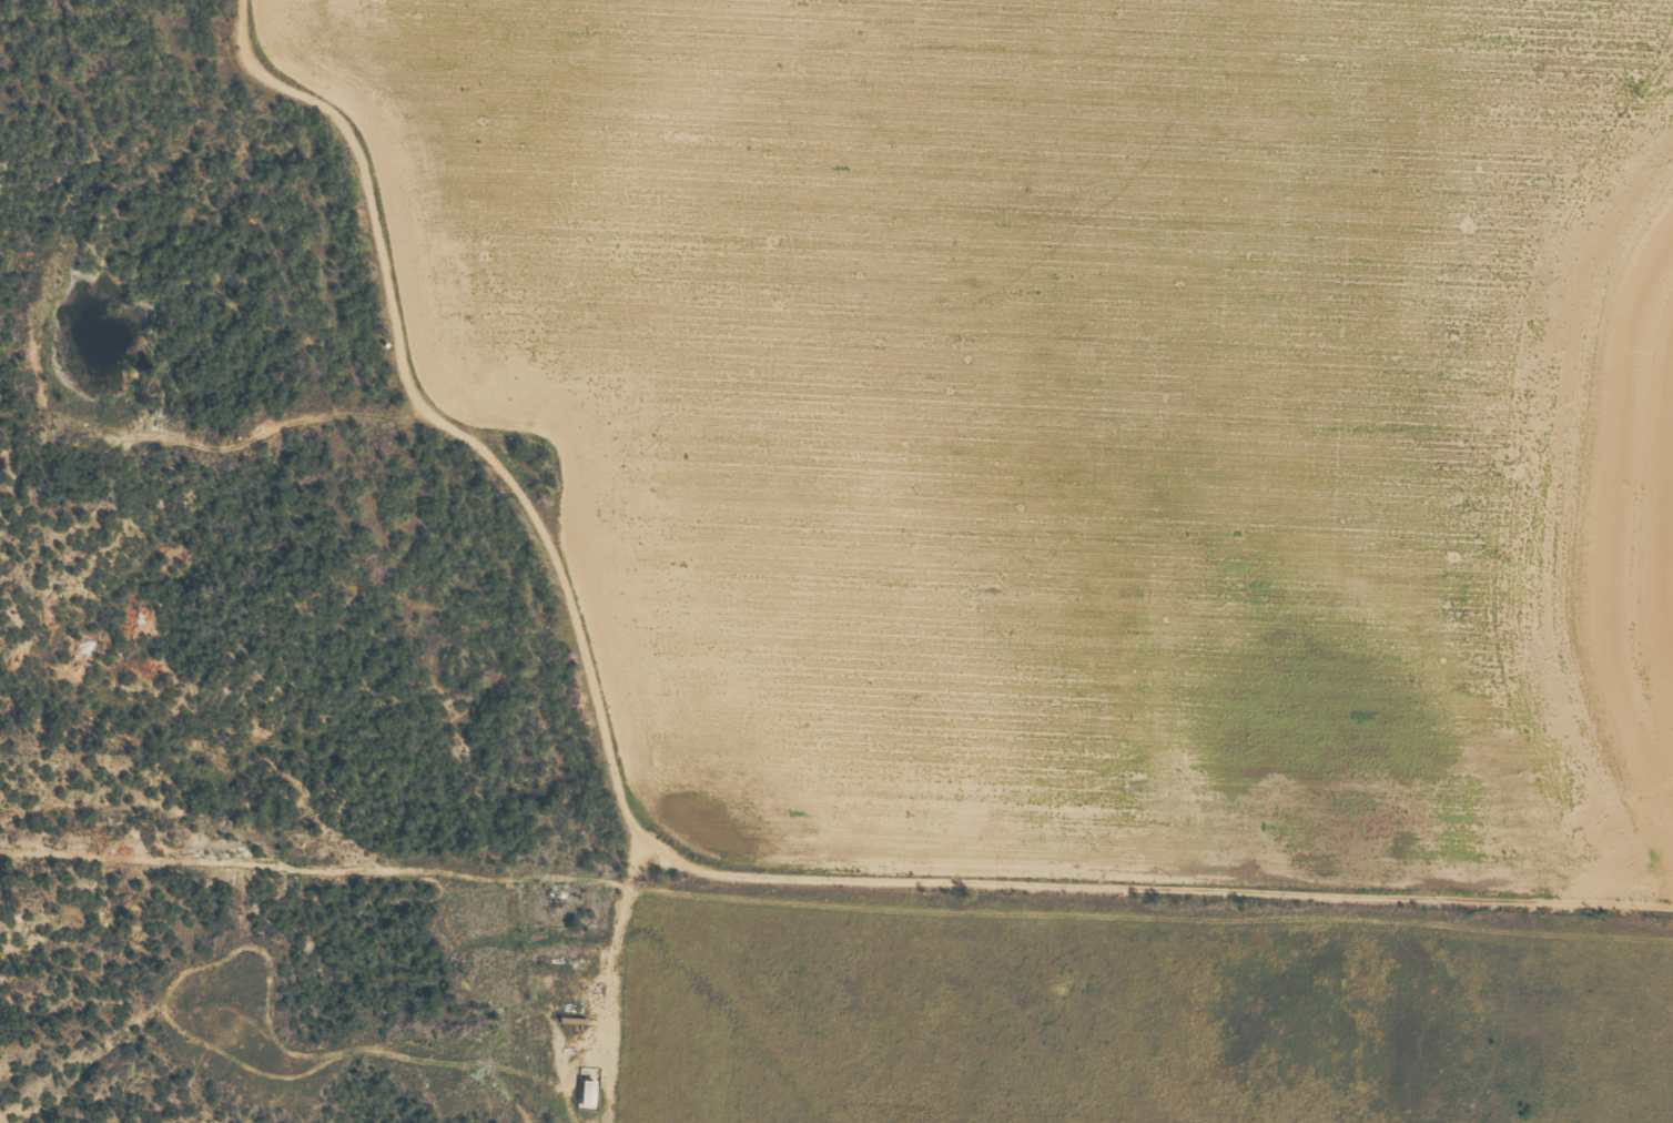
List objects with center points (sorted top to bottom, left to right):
road: (685, 861)

